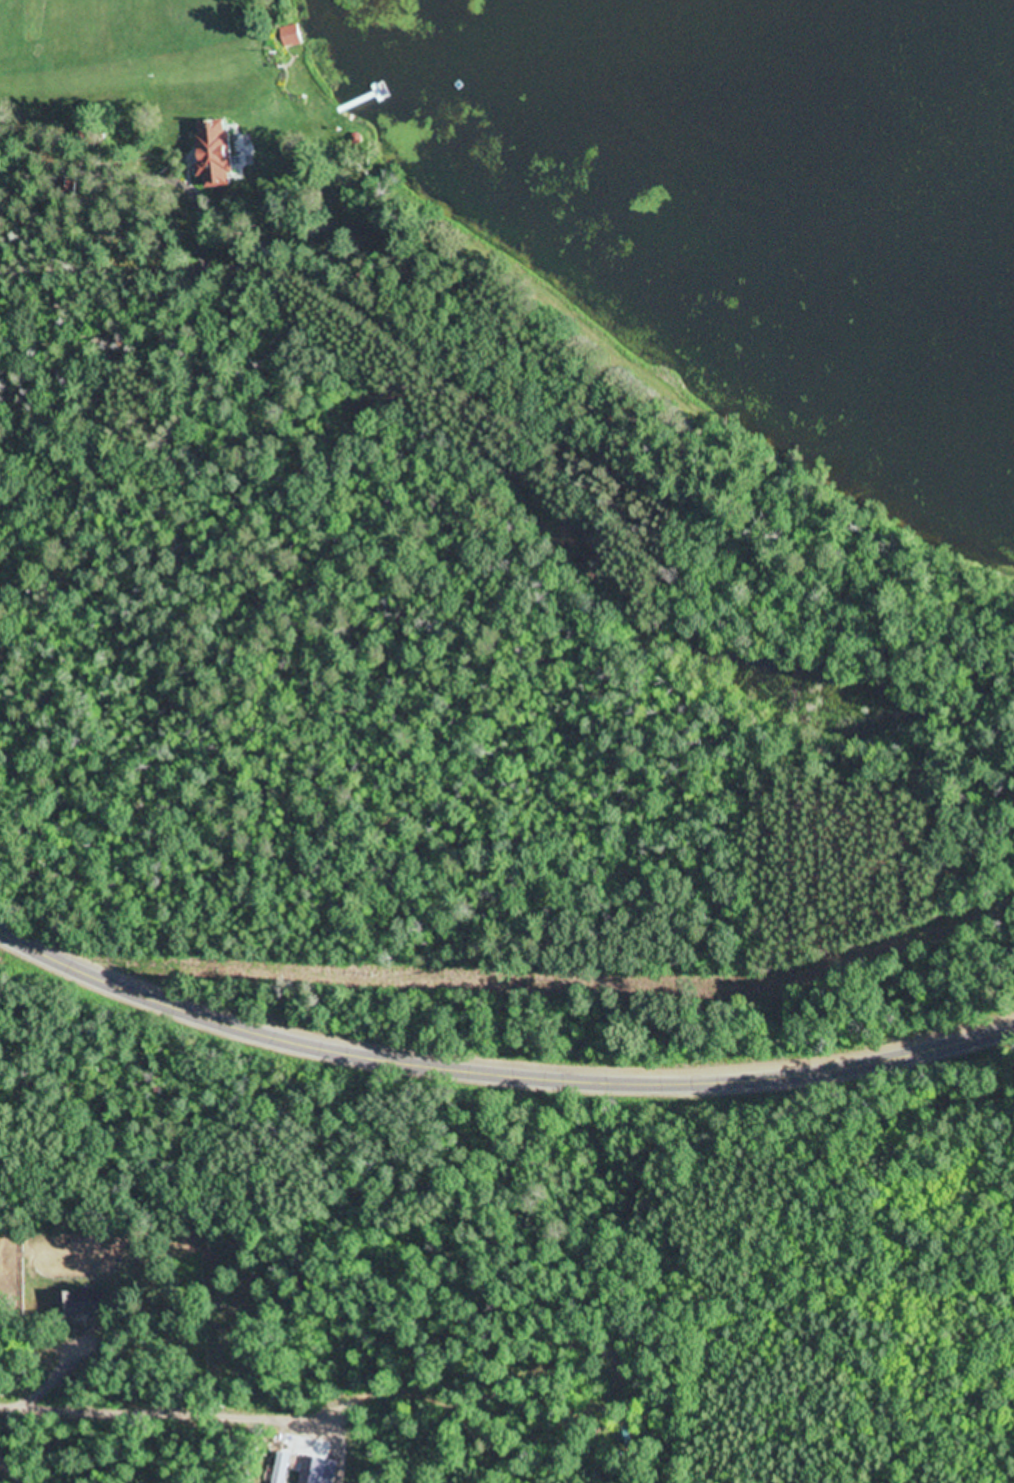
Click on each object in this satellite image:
river: (482, 10)
building: (293, 34)
building: (217, 151)
road: (497, 1066)
building: (87, 1303)
road: (37, 1372)

